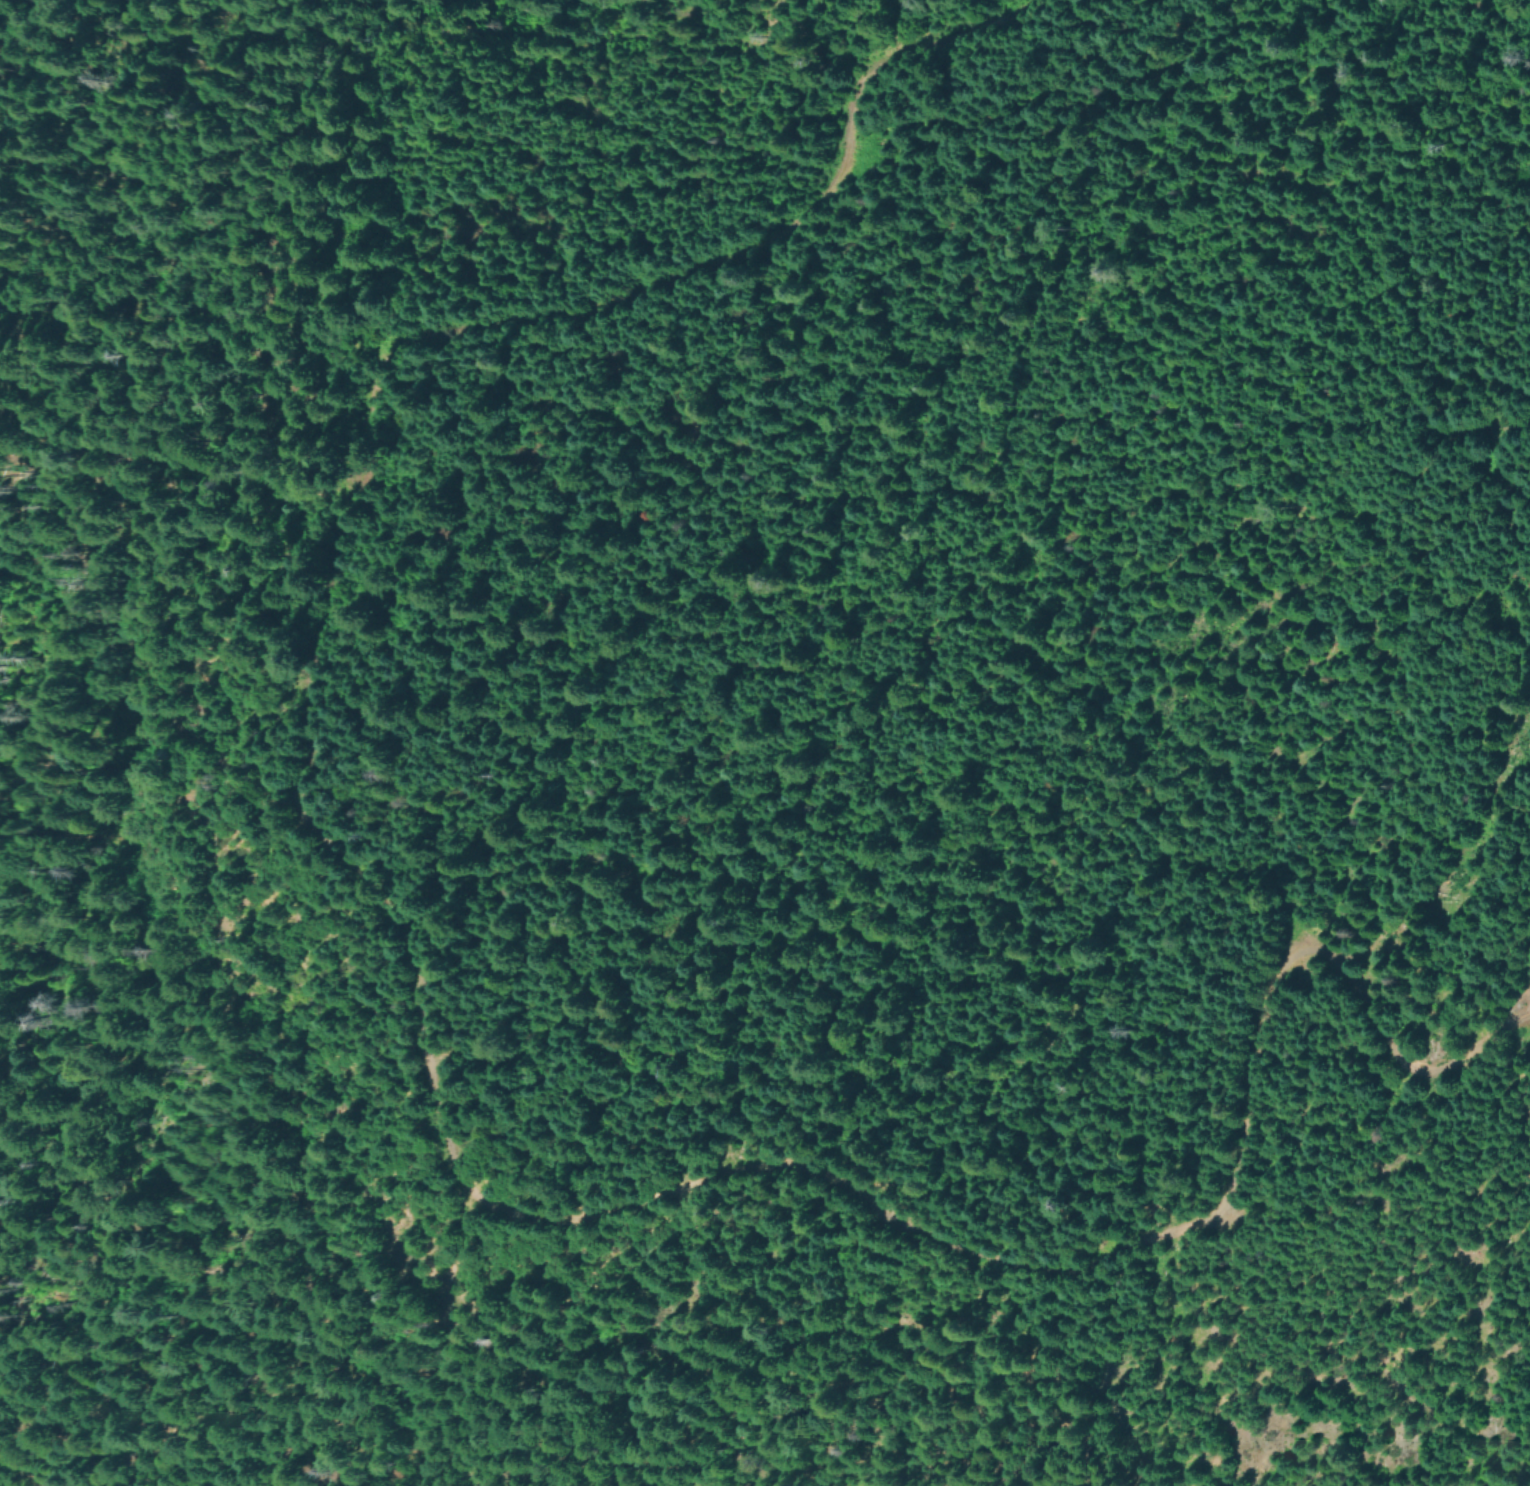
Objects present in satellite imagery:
road: (429, 1035)
road: (170, 1377)

